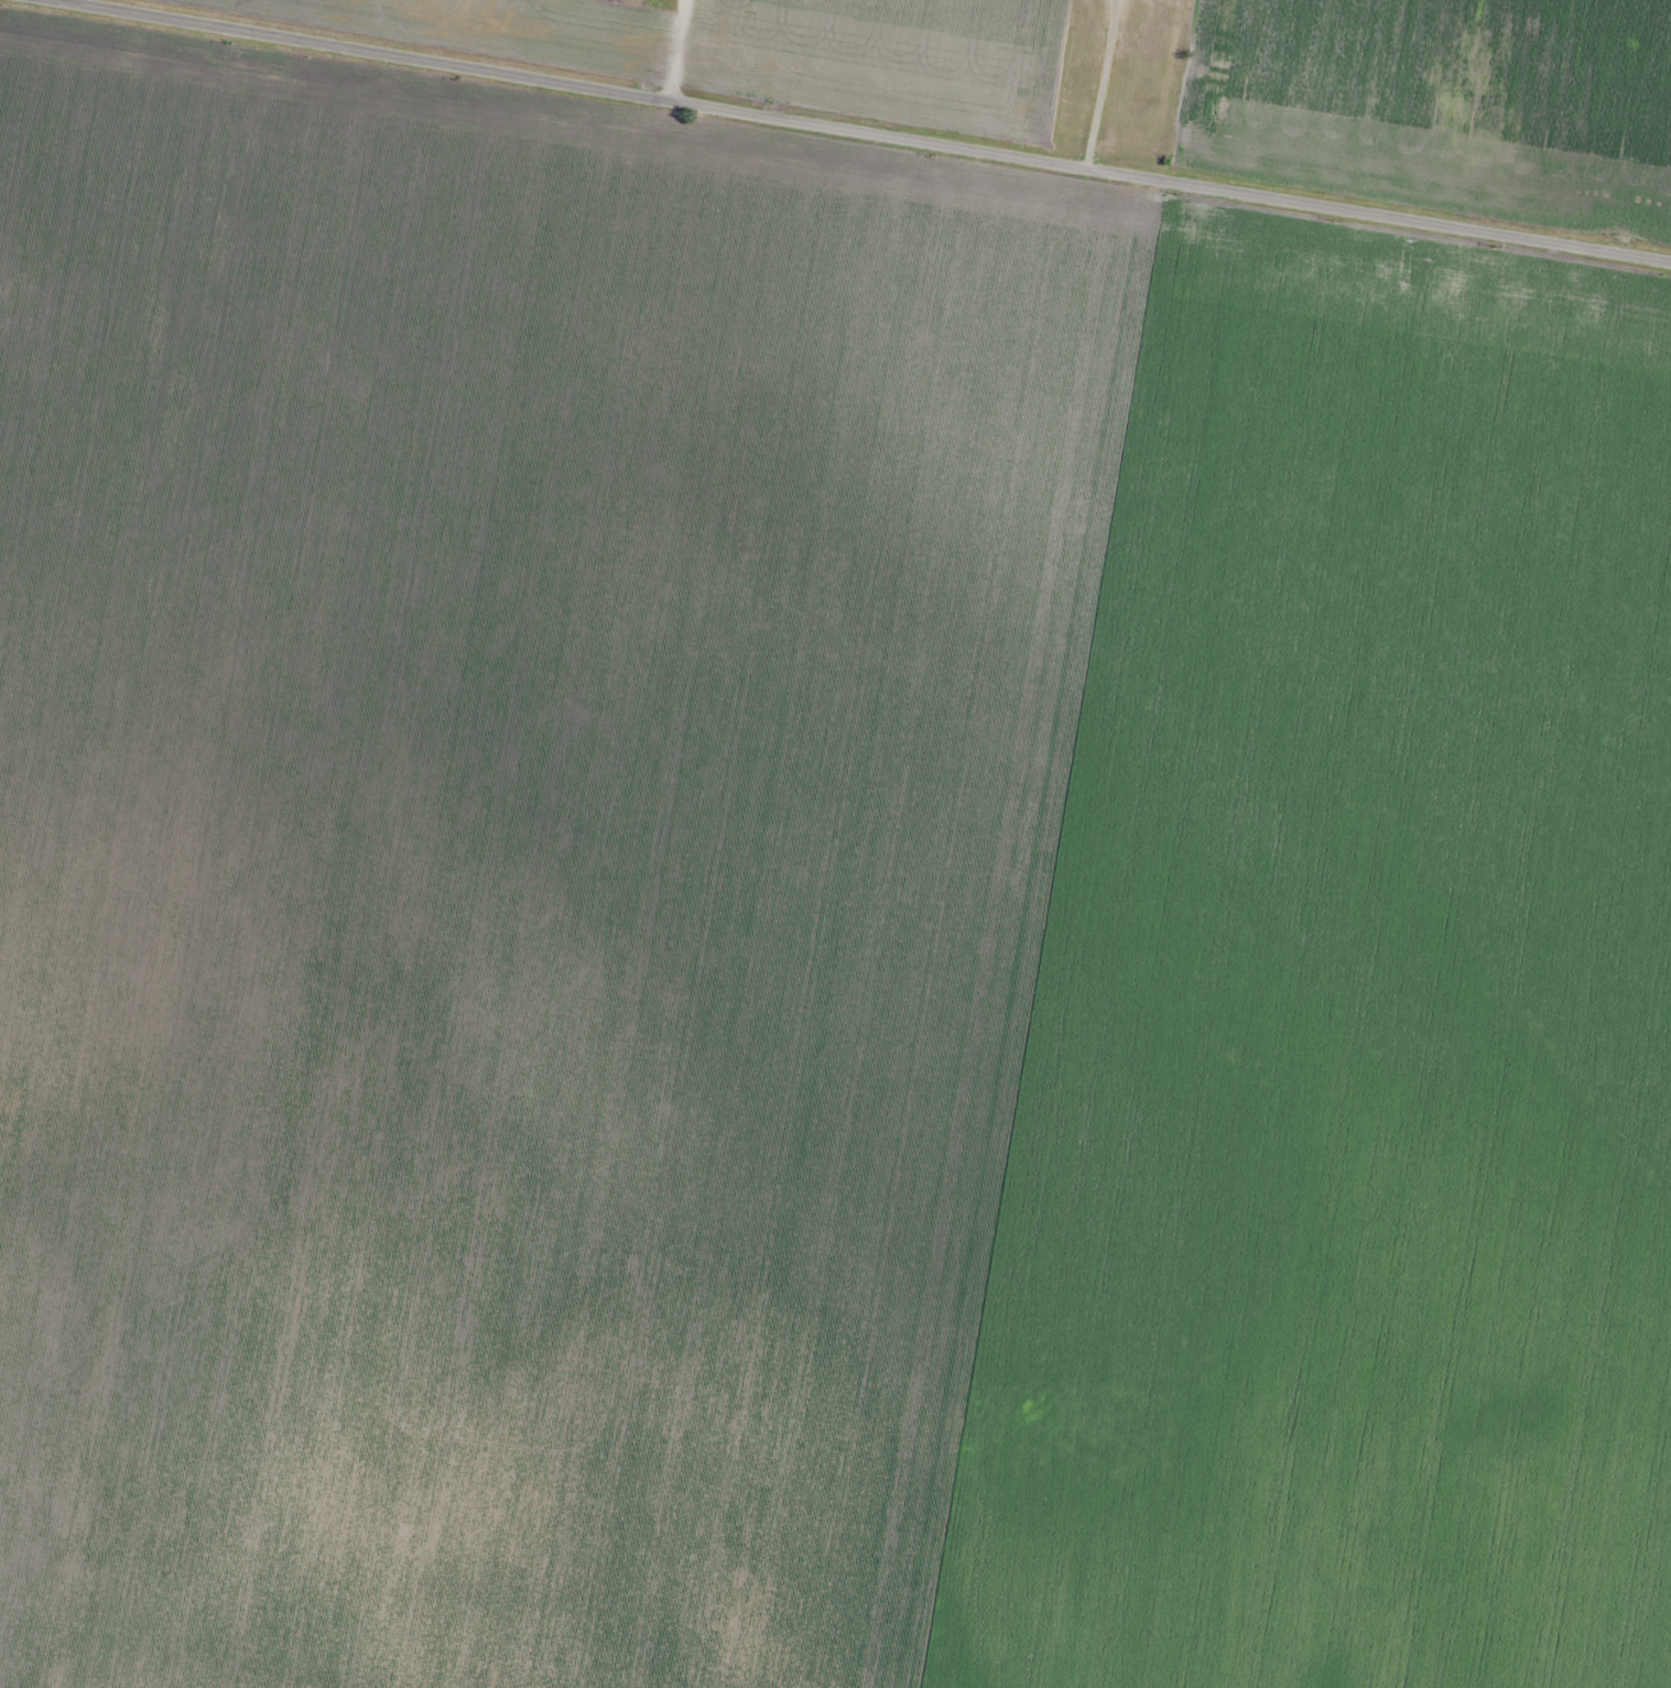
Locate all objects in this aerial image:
road: (868, 131)

